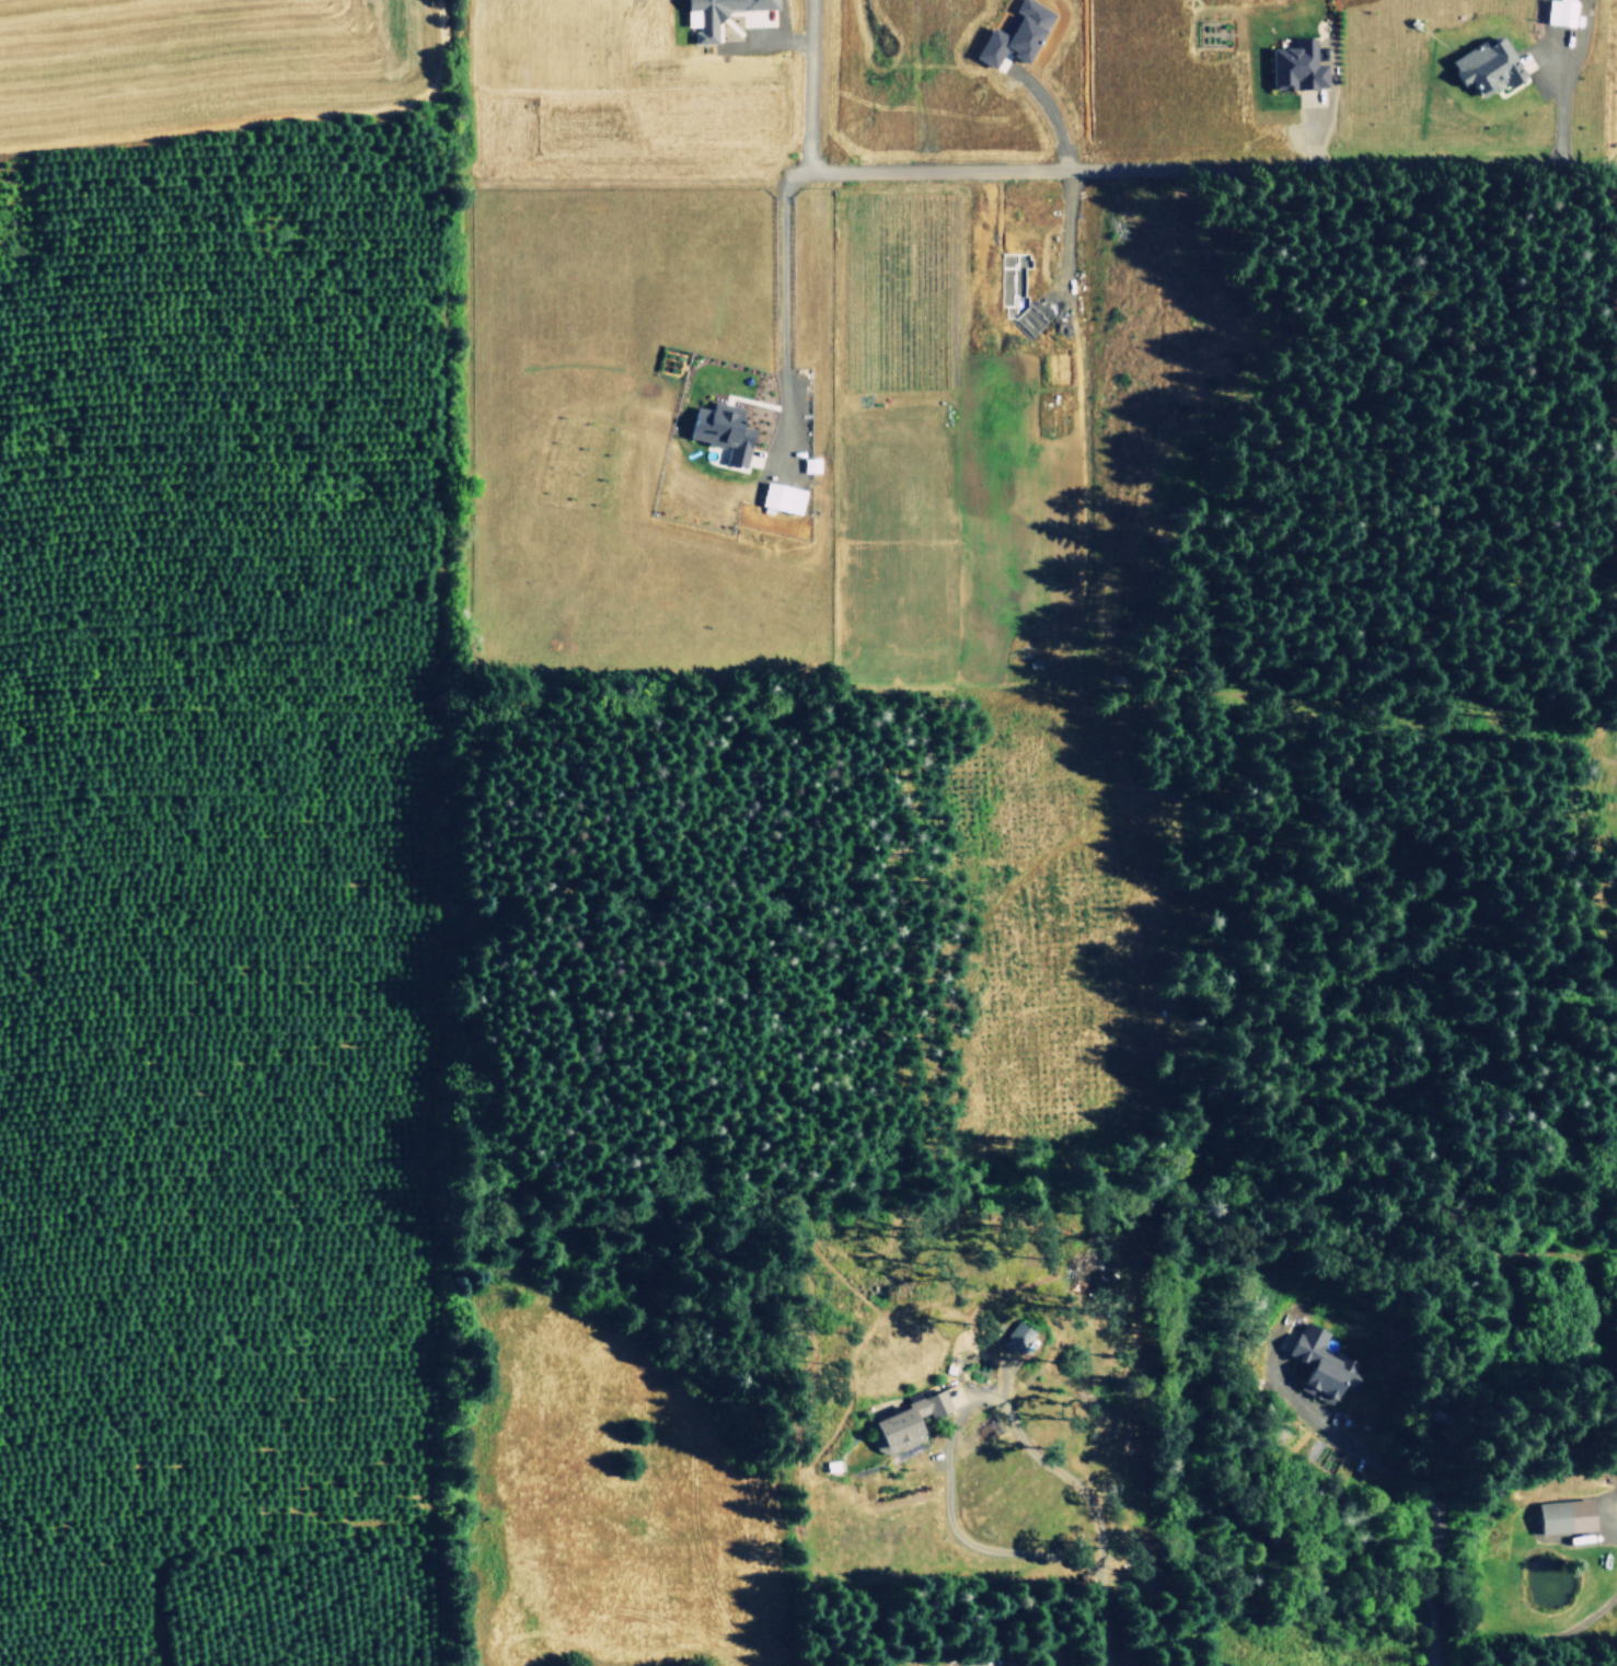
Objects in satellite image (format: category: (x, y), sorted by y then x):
building: (1558, 11)
building: (719, 15)
building: (1016, 33)
road: (765, 35)
building: (1320, 54)
building: (1297, 65)
building: (1483, 65)
road: (1548, 74)
road: (808, 90)
road: (1560, 102)
road: (1049, 114)
road: (1314, 135)
road: (1006, 176)
road: (1063, 242)
road: (781, 324)
building: (719, 428)
building: (810, 465)
building: (781, 497)
building: (1018, 1340)
building: (1318, 1363)
building: (948, 1368)
road: (173, 1403)
road: (954, 1419)
building: (905, 1423)
building: (832, 1465)
road: (1397, 1477)
building: (1564, 1514)
road: (1612, 1522)
road: (1098, 1621)
road: (1429, 1657)

